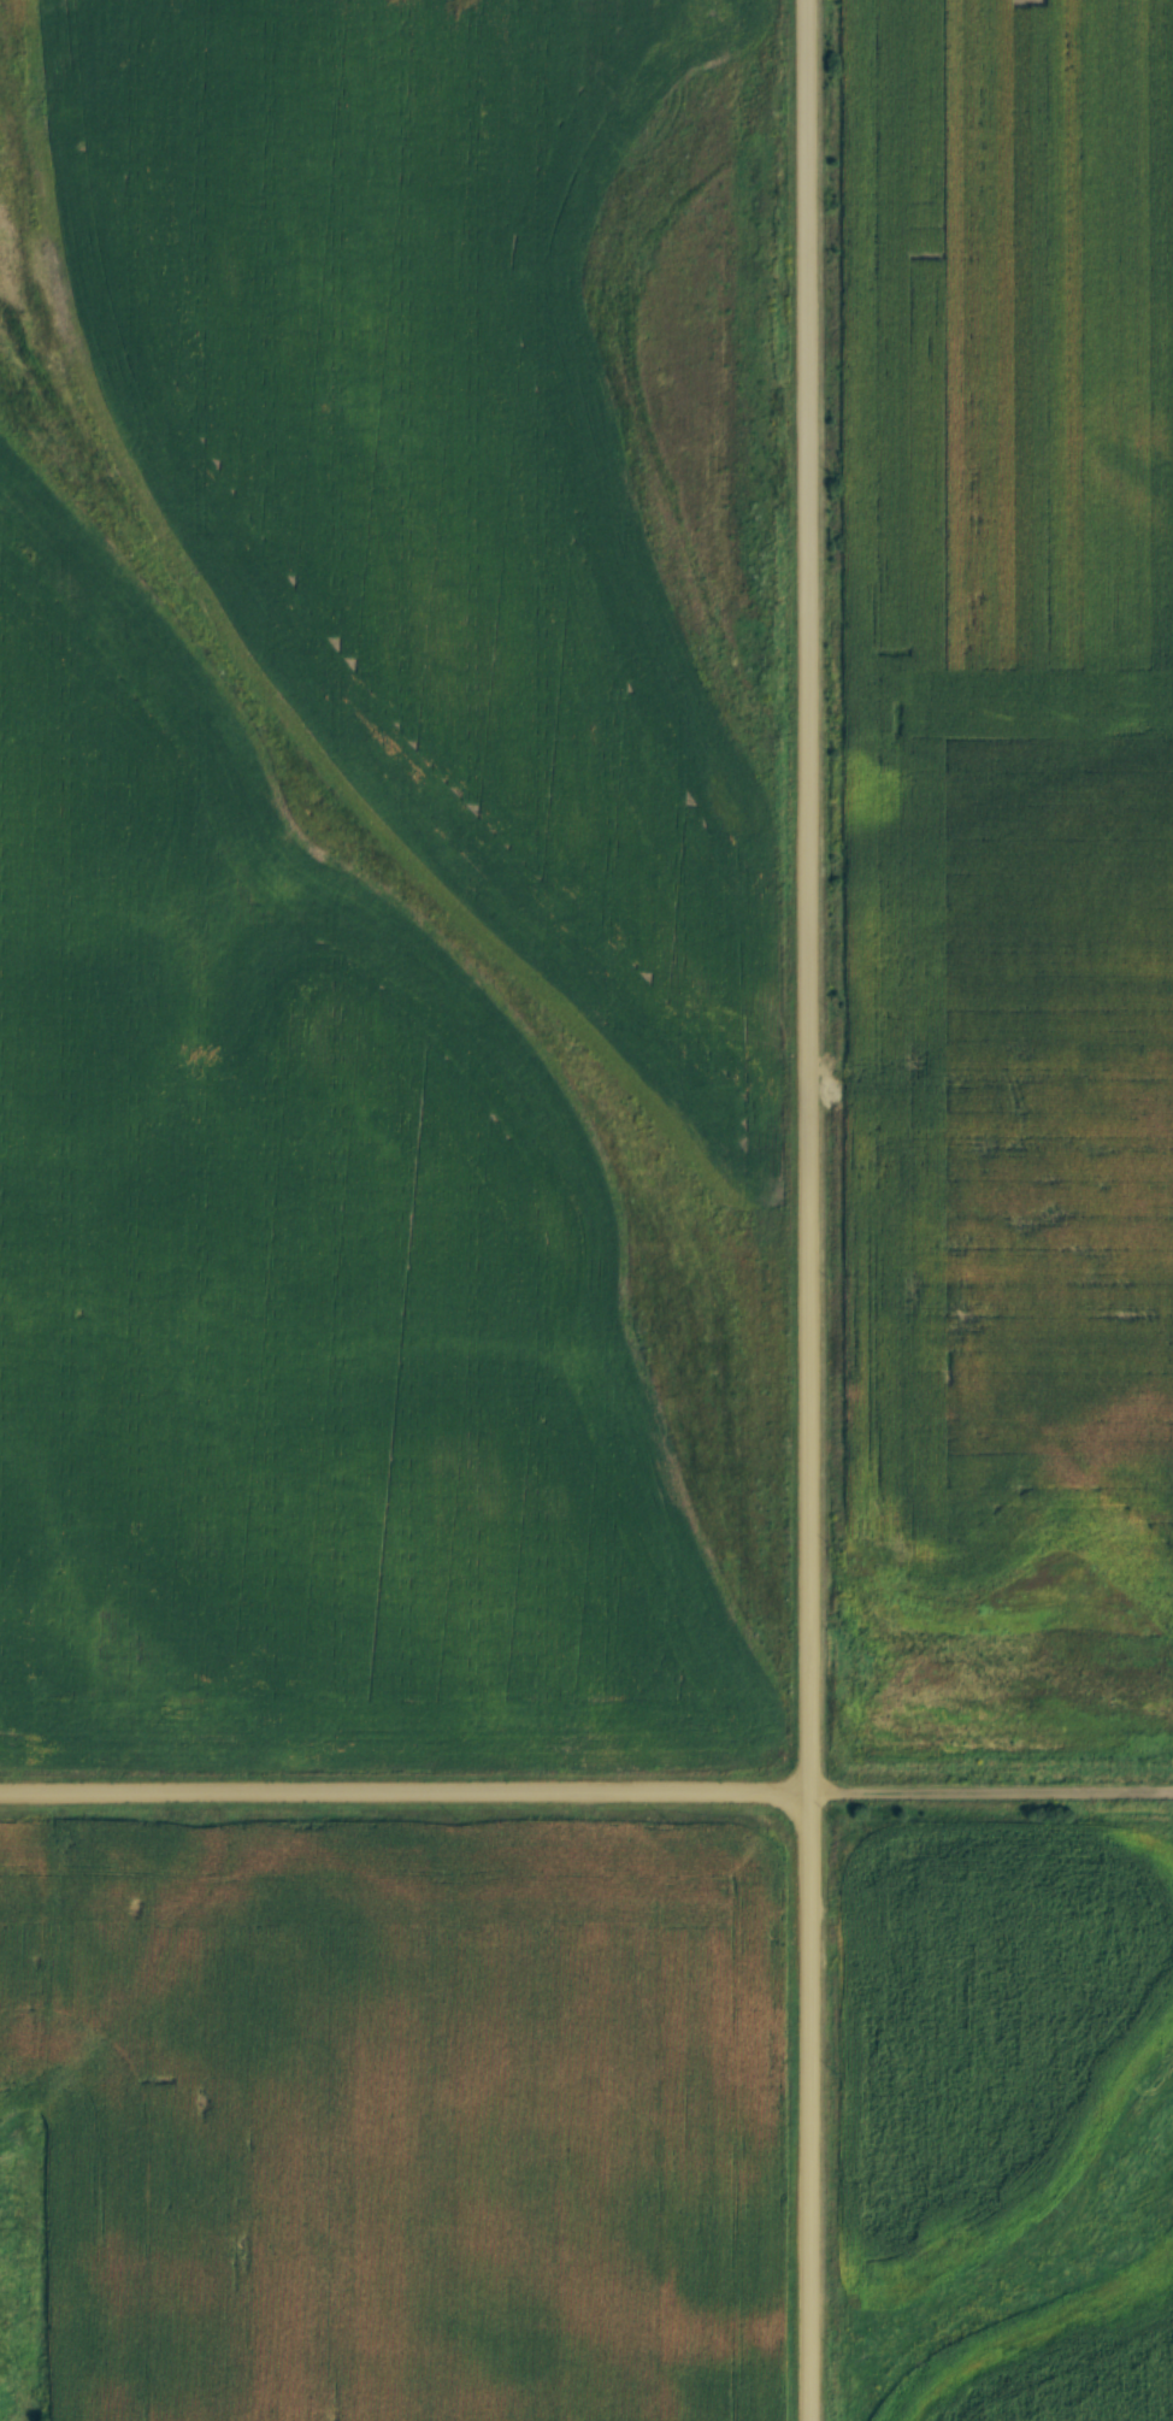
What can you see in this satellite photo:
road: (813, 1210)
road: (585, 1791)

